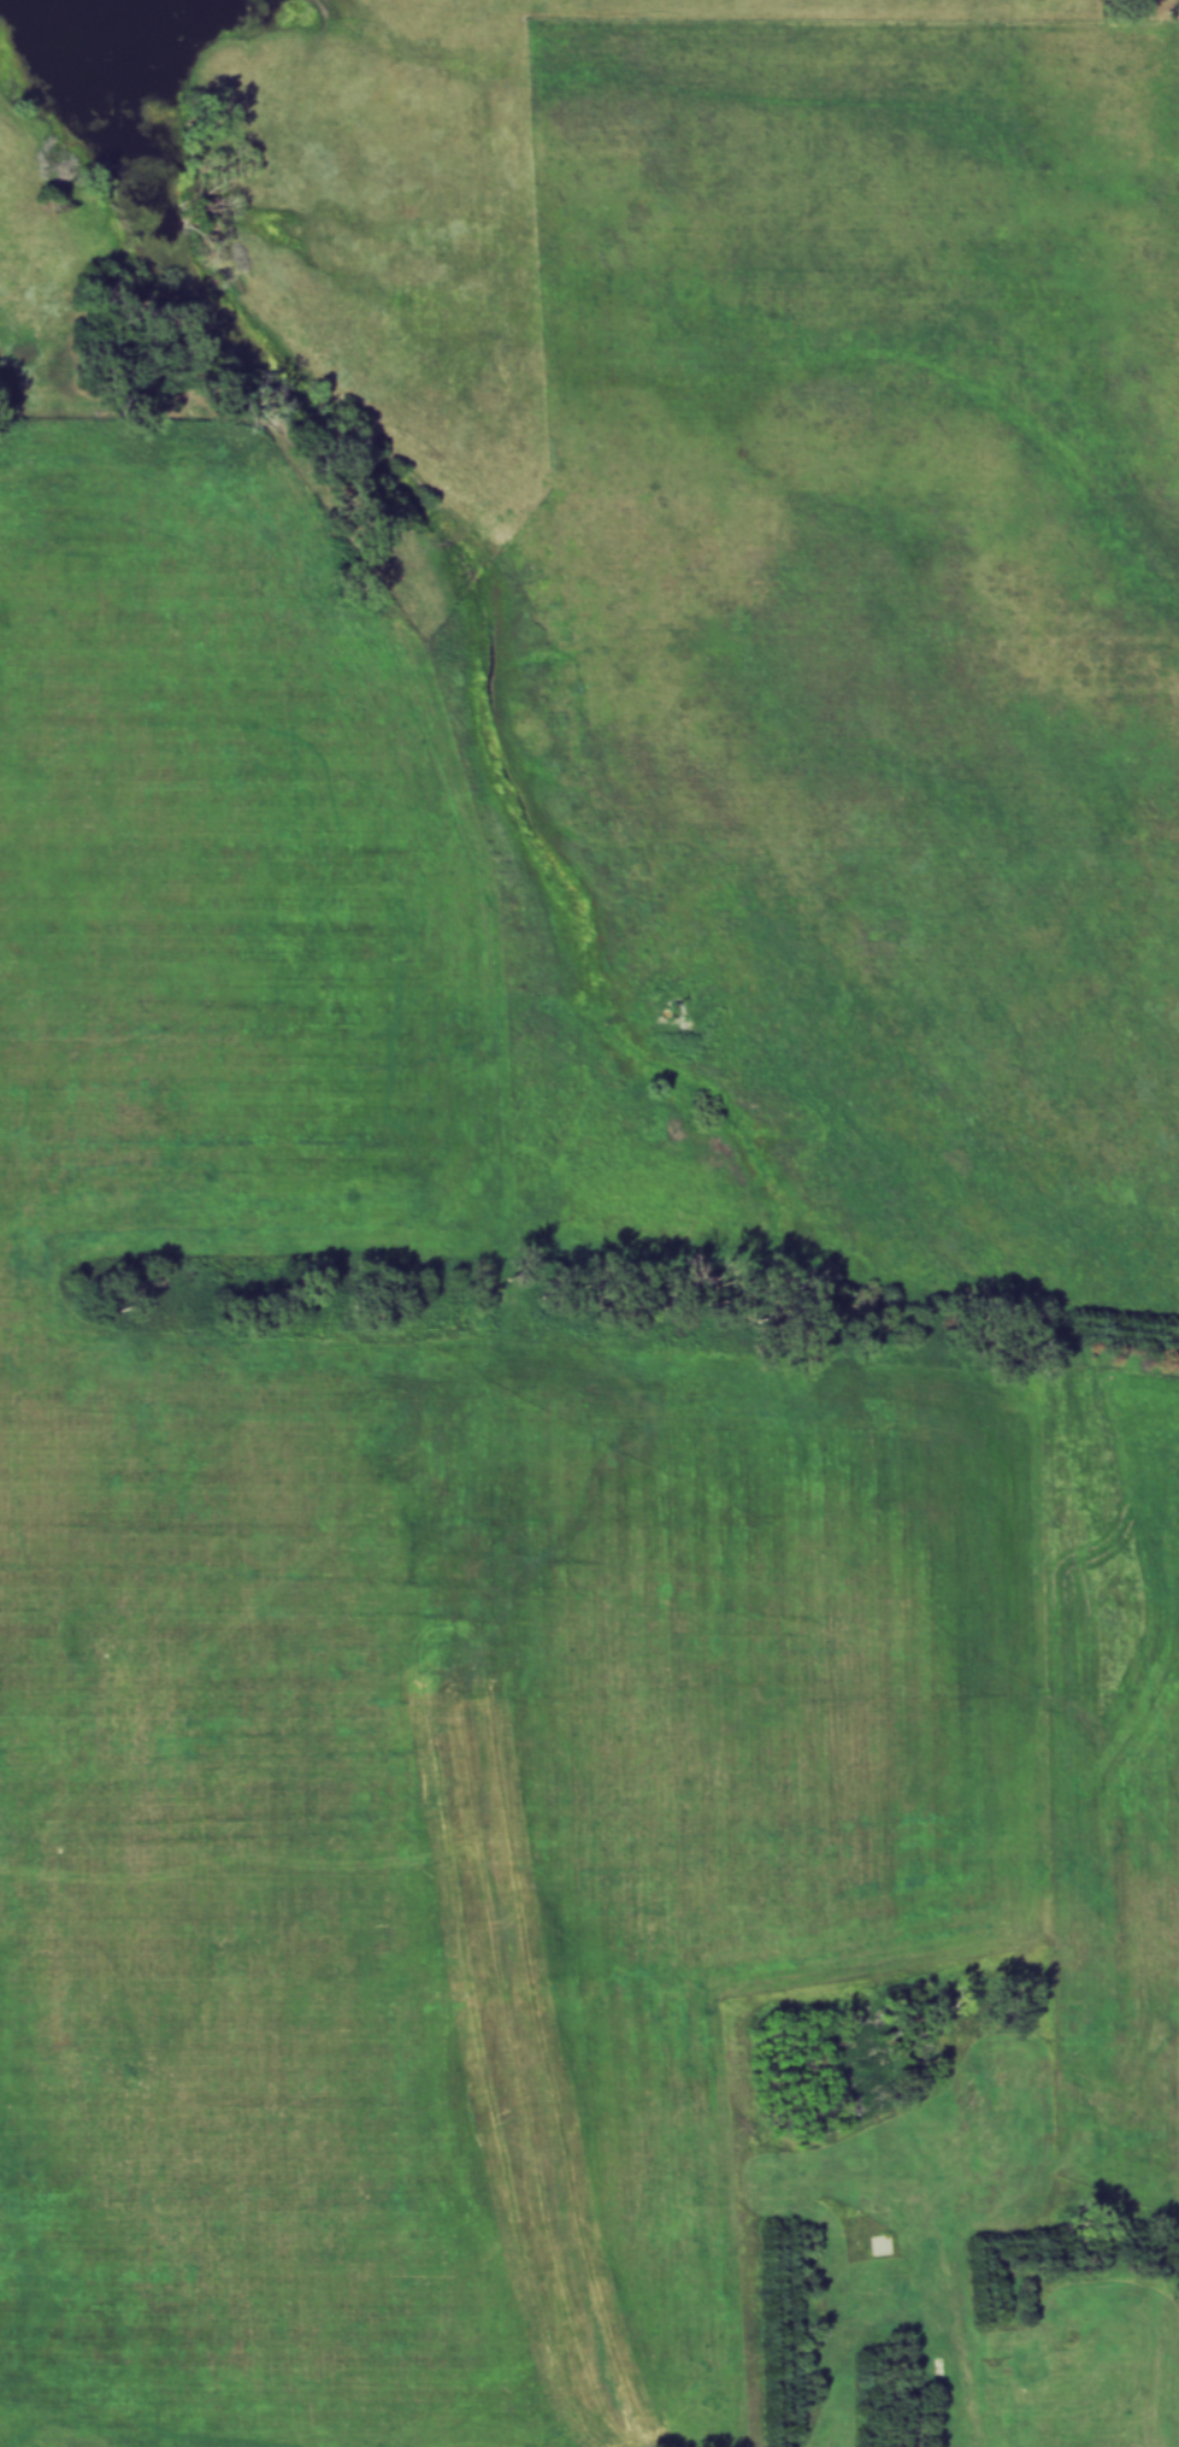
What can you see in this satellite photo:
building: (878, 2246)
road: (953, 2307)

